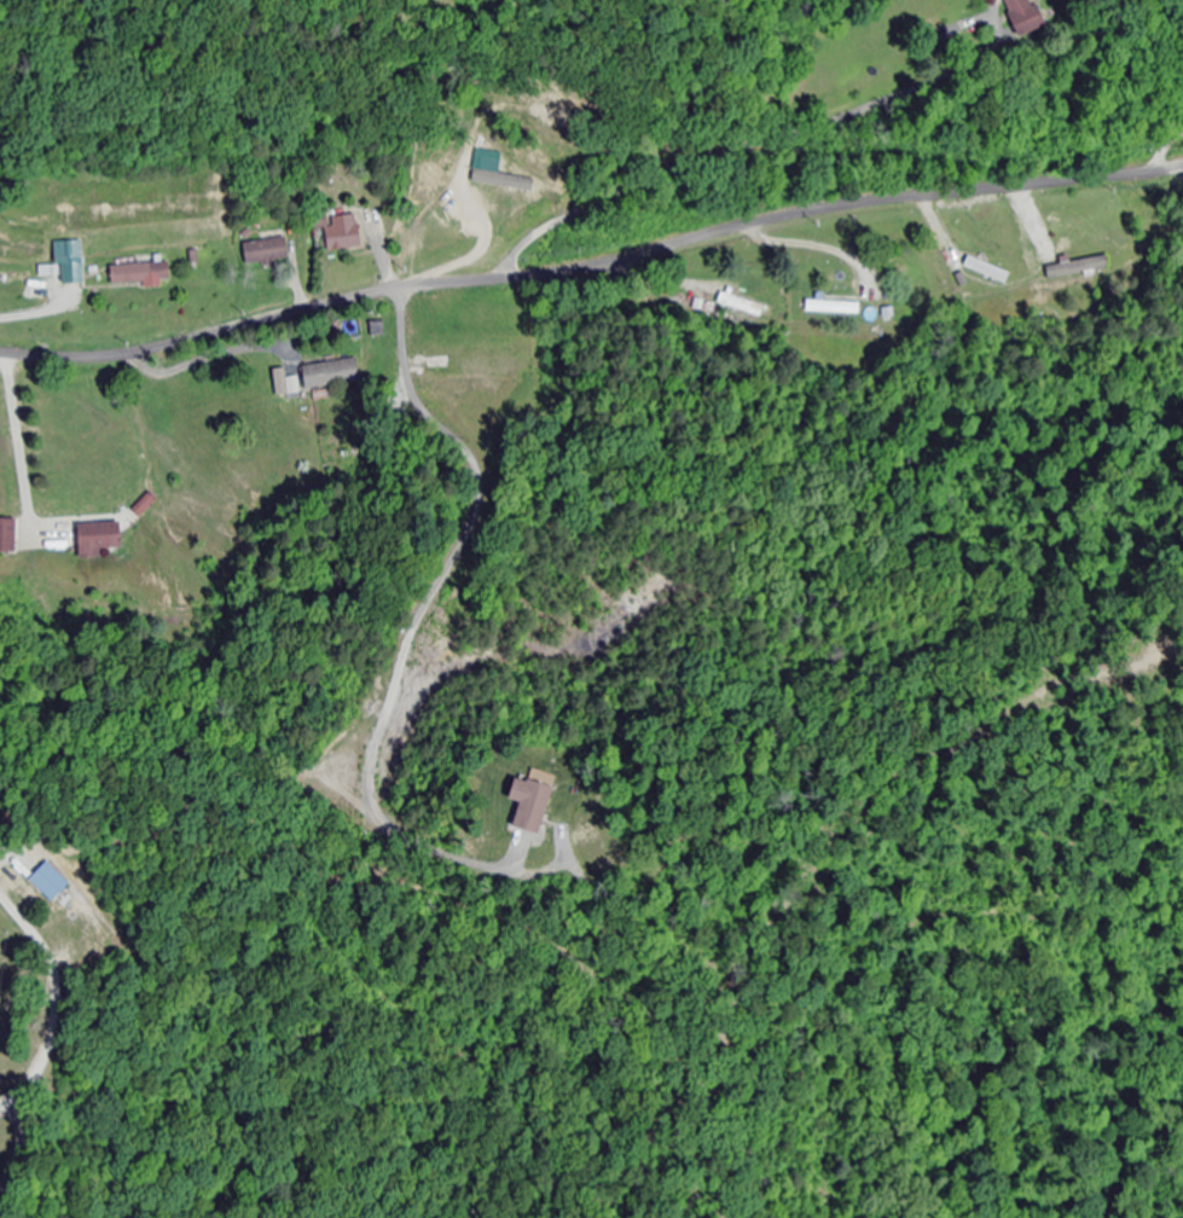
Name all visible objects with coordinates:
building: (1028, 16)
building: (346, 234)
building: (268, 253)
road: (591, 261)
building: (69, 263)
building: (1084, 268)
building: (987, 269)
building: (144, 274)
building: (15, 280)
building: (743, 304)
building: (831, 308)
building: (332, 375)
building: (102, 539)
building: (533, 806)
building: (52, 883)
road: (18, 1147)

